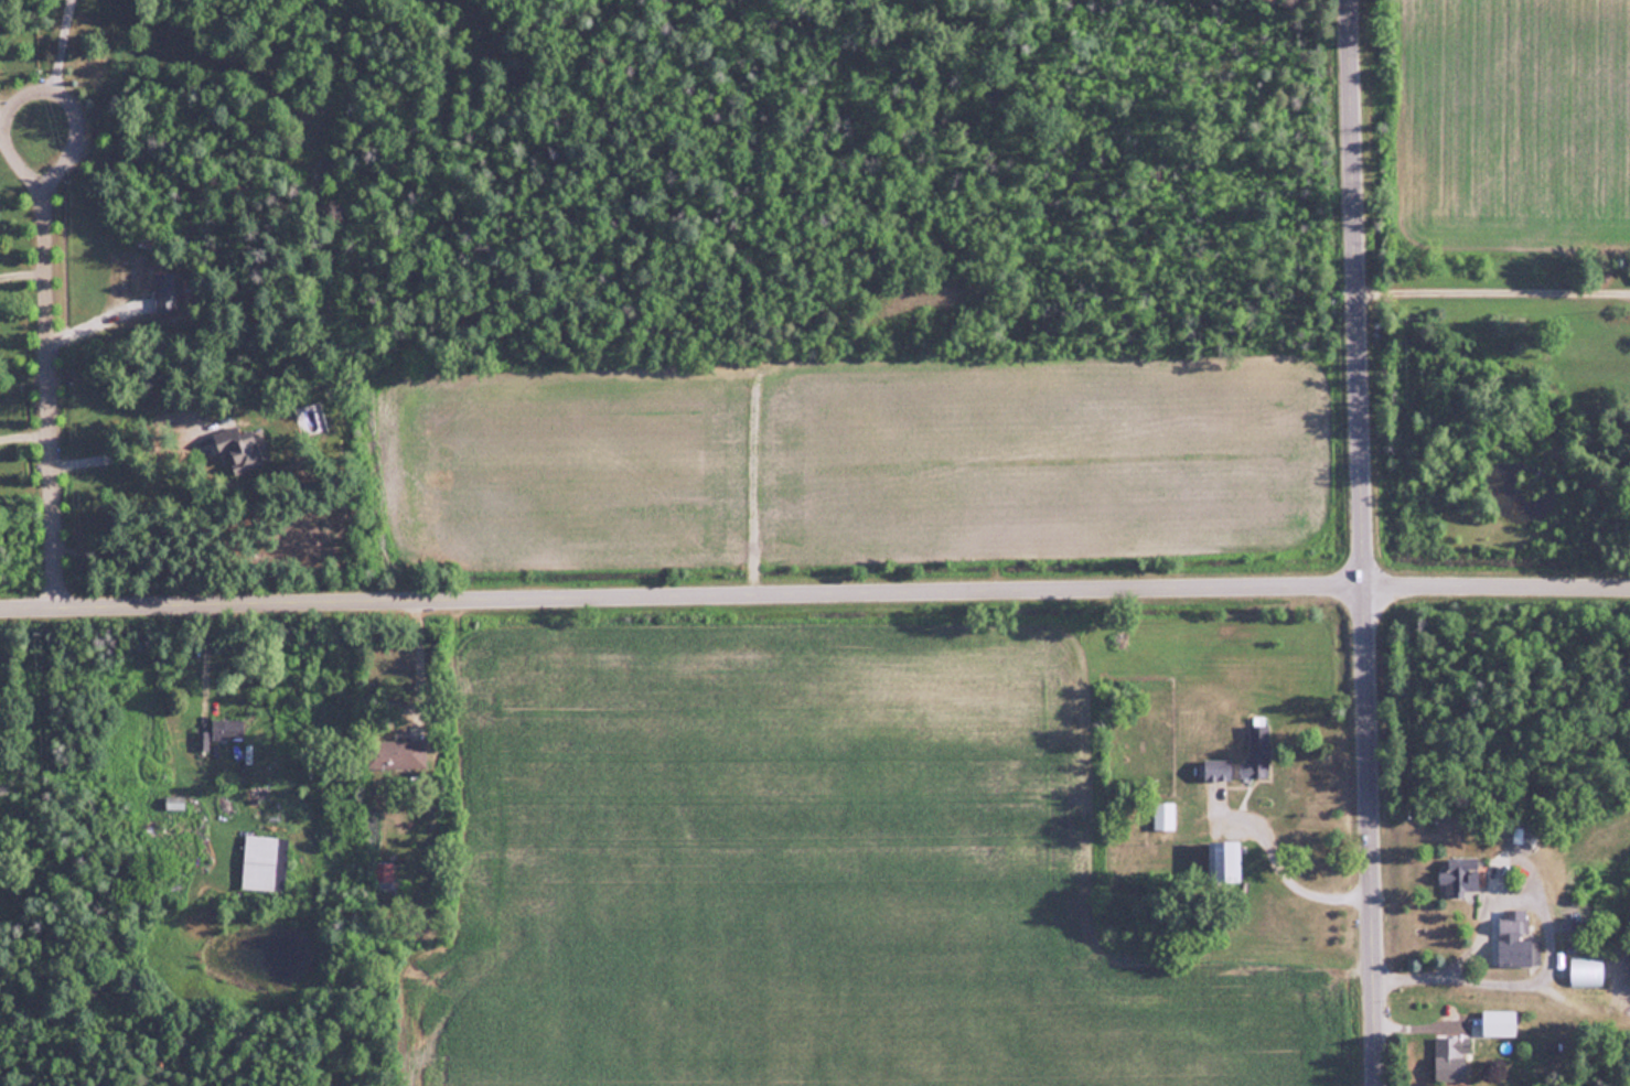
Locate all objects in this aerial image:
road: (56, 58)
road: (20, 106)
road: (1493, 280)
building: (169, 291)
road: (45, 367)
building: (240, 451)
road: (1364, 542)
road: (814, 604)
building: (228, 730)
building: (1258, 751)
building: (395, 754)
building: (1218, 770)
building: (1224, 862)
building: (265, 863)
building: (383, 873)
building: (1461, 877)
building: (1516, 940)
road: (1551, 948)
building: (1500, 1023)
building: (1451, 1058)

